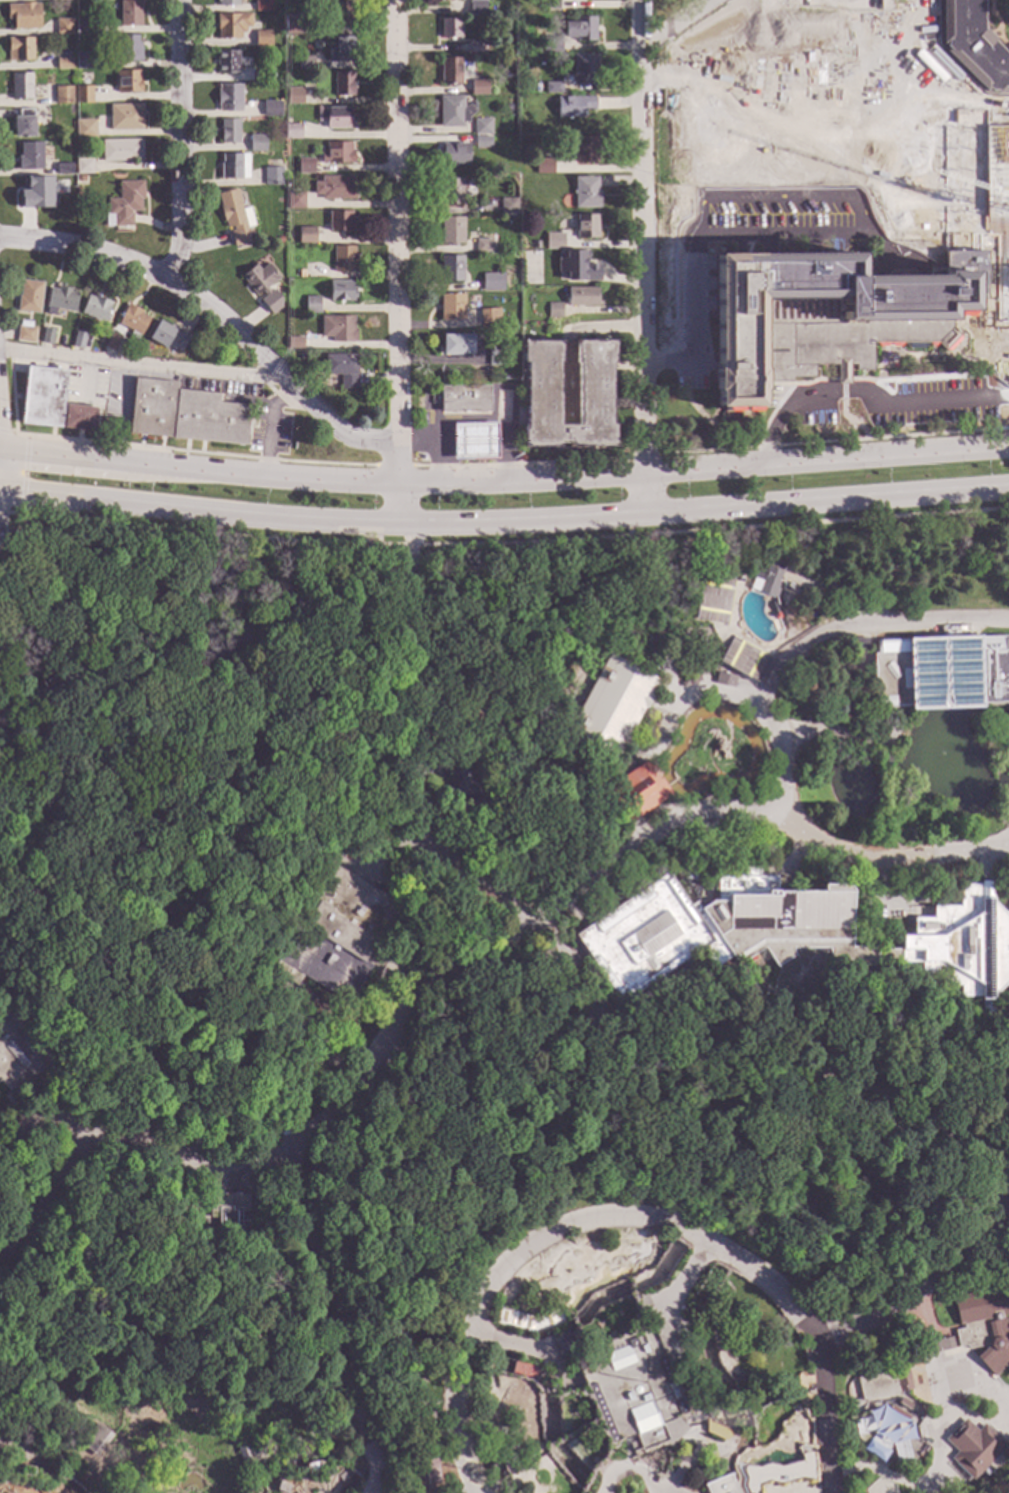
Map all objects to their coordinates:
building: (450, 1)
building: (227, 3)
building: (547, 4)
building: (262, 5)
building: (476, 7)
building: (130, 13)
building: (23, 16)
building: (339, 16)
building: (293, 24)
road: (672, 24)
building: (231, 25)
building: (63, 26)
building: (82, 27)
building: (449, 28)
building: (580, 29)
building: (262, 39)
building: (551, 45)
building: (973, 45)
building: (476, 47)
building: (19, 49)
building: (126, 49)
building: (342, 49)
building: (822, 60)
building: (83, 61)
building: (226, 62)
building: (305, 63)
building: (64, 64)
building: (585, 70)
building: (450, 71)
building: (258, 74)
building: (270, 76)
building: (128, 82)
building: (343, 84)
building: (21, 86)
building: (10, 87)
building: (478, 88)
building: (552, 88)
building: (63, 95)
building: (83, 95)
building: (293, 96)
building: (228, 98)
building: (574, 106)
building: (271, 109)
building: (453, 111)
building: (937, 112)
building: (125, 117)
building: (335, 118)
building: (24, 123)
building: (481, 127)
building: (85, 129)
building: (228, 131)
building: (293, 131)
road: (179, 140)
building: (482, 142)
building: (256, 143)
building: (585, 150)
building: (121, 151)
building: (337, 153)
building: (455, 154)
building: (30, 157)
building: (278, 163)
building: (83, 166)
building: (234, 166)
building: (305, 166)
building: (544, 166)
building: (64, 169)
building: (272, 176)
building: (81, 179)
building: (334, 188)
road: (854, 190)
building: (31, 192)
building: (451, 192)
building: (585, 192)
building: (64, 194)
building: (295, 200)
building: (124, 204)
building: (508, 205)
building: (234, 217)
building: (340, 222)
building: (586, 226)
building: (451, 231)
building: (306, 236)
building: (279, 240)
building: (553, 241)
building: (483, 246)
road: (642, 257)
building: (343, 259)
road: (396, 263)
building: (577, 266)
building: (451, 269)
building: (301, 274)
building: (492, 282)
building: (261, 283)
building: (865, 289)
building: (341, 291)
building: (29, 297)
building: (581, 297)
road: (693, 298)
building: (62, 299)
building: (267, 304)
building: (311, 305)
building: (451, 307)
building: (96, 308)
building: (554, 310)
road: (214, 313)
building: (489, 316)
building: (132, 321)
building: (291, 321)
building: (338, 329)
building: (25, 332)
building: (47, 336)
building: (168, 337)
building: (78, 340)
building: (112, 342)
building: (294, 343)
building: (457, 344)
building: (303, 357)
building: (496, 358)
road: (138, 364)
building: (342, 370)
road: (1003, 373)
building: (567, 393)
building: (43, 397)
road: (863, 397)
building: (464, 398)
building: (185, 414)
building: (78, 417)
road: (496, 419)
road: (5, 432)
building: (474, 441)
road: (833, 441)
road: (440, 442)
road: (192, 452)
road: (640, 456)
road: (517, 463)
road: (393, 466)
road: (24, 474)
road: (504, 481)
road: (710, 510)
road: (205, 511)
road: (504, 544)
building: (822, 565)
building: (767, 578)
building: (740, 580)
road: (840, 595)
road: (863, 629)
road: (685, 636)
building: (858, 643)
building: (941, 673)
building: (724, 679)
building: (690, 681)
building: (782, 691)
road: (853, 691)
road: (732, 699)
building: (612, 708)
road: (661, 710)
road: (996, 726)
road: (847, 738)
road: (413, 751)
road: (430, 769)
building: (464, 789)
building: (638, 790)
road: (386, 850)
road: (797, 857)
road: (702, 860)
road: (984, 864)
building: (308, 890)
road: (881, 904)
building: (794, 937)
building: (340, 938)
road: (524, 957)
road: (394, 958)
road: (460, 969)
road: (564, 972)
building: (321, 995)
road: (989, 1027)
road: (315, 1040)
building: (22, 1056)
road: (68, 1116)
road: (34, 1127)
road: (231, 1179)
railway: (1000, 1187)
railway: (507, 1201)
building: (228, 1211)
road: (633, 1221)
road: (922, 1288)
road: (675, 1291)
building: (643, 1303)
road: (327, 1325)
building: (984, 1325)
building: (395, 1333)
road: (931, 1340)
building: (406, 1346)
building: (934, 1346)
road: (530, 1350)
road: (409, 1376)
building: (728, 1377)
building: (883, 1382)
building: (635, 1386)
road: (934, 1388)
building: (905, 1403)
road: (972, 1419)
building: (717, 1431)
road: (698, 1436)
building: (96, 1438)
road: (311, 1439)
building: (973, 1447)
road: (709, 1449)
building: (249, 1454)
road: (33, 1455)
building: (518, 1461)
road: (685, 1469)
building: (312, 1470)
road: (627, 1470)
building: (424, 1473)
road: (779, 1473)
building: (774, 1474)
road: (879, 1474)
building: (26, 1477)
building: (720, 1485)
road: (674, 1490)
road: (823, 1491)

